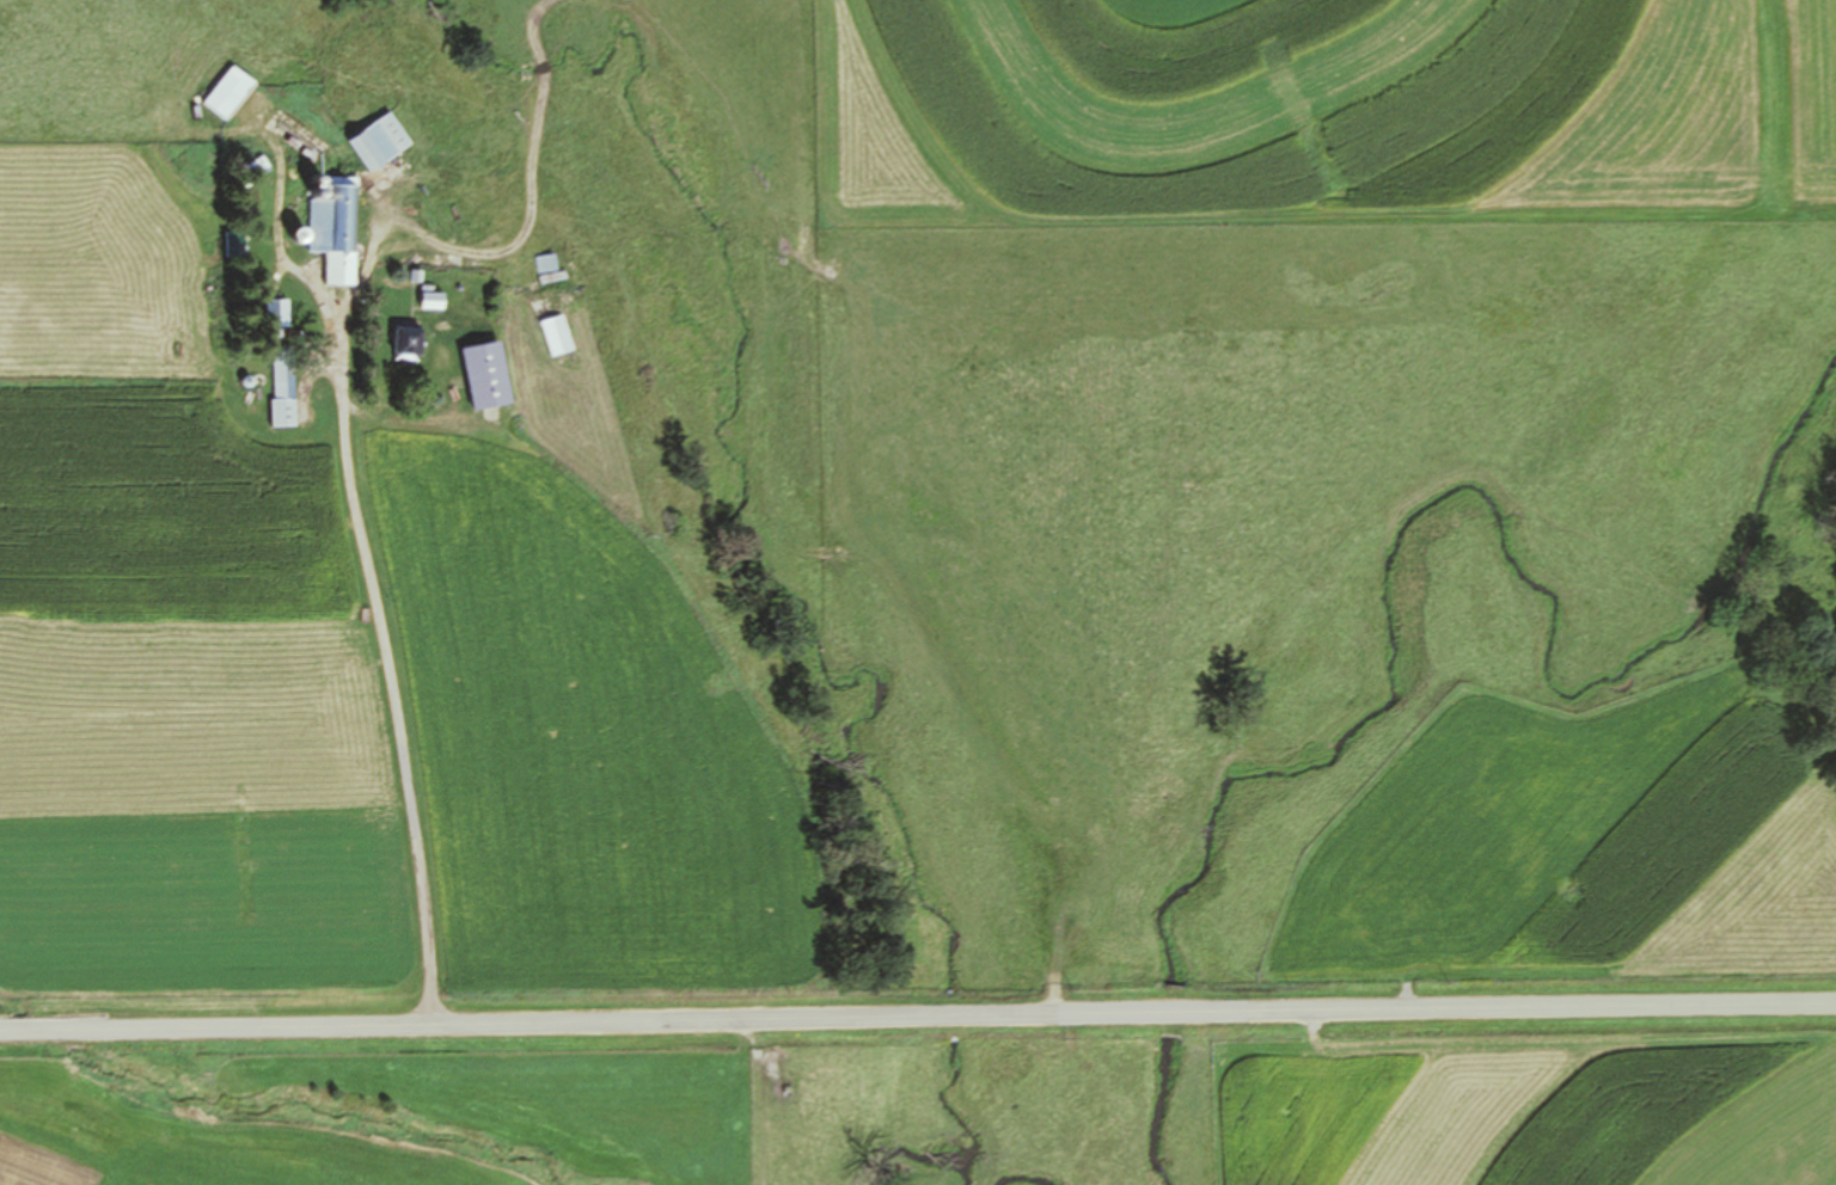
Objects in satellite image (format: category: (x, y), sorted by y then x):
building: (229, 92)
building: (380, 142)
building: (336, 231)
building: (549, 270)
building: (558, 337)
building: (410, 343)
building: (484, 351)
building: (284, 387)
road: (403, 742)
road: (917, 1014)
river: (1168, 1109)
river: (931, 1161)
river: (1026, 1180)

